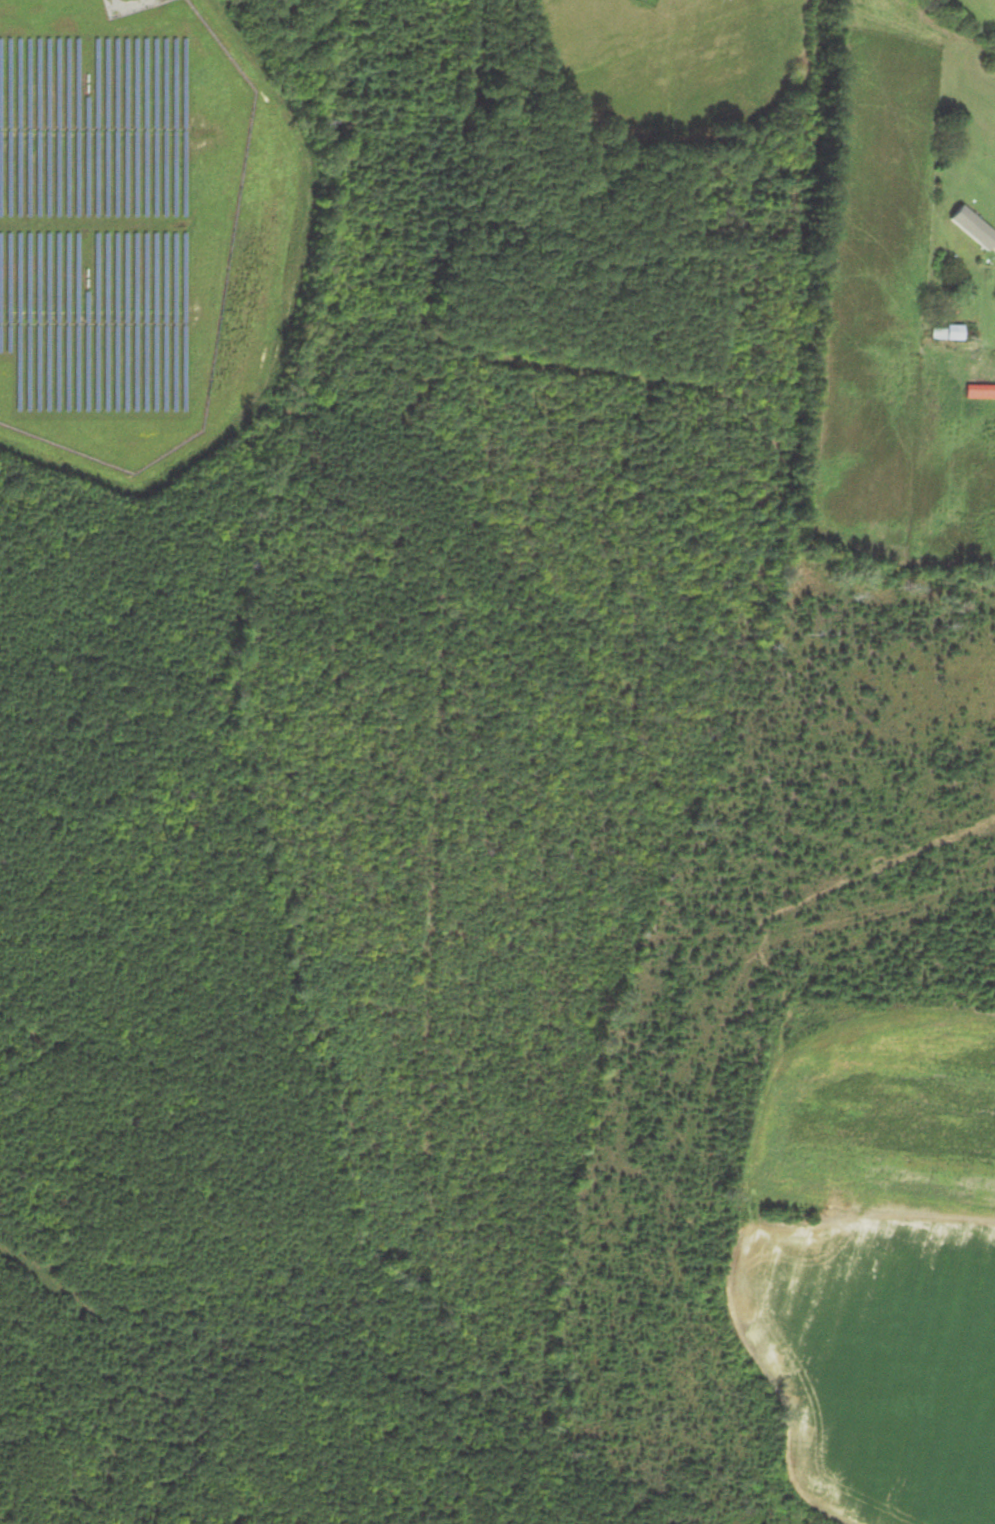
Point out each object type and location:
solar farm: (103, 217)
building: (970, 245)
building: (978, 391)

